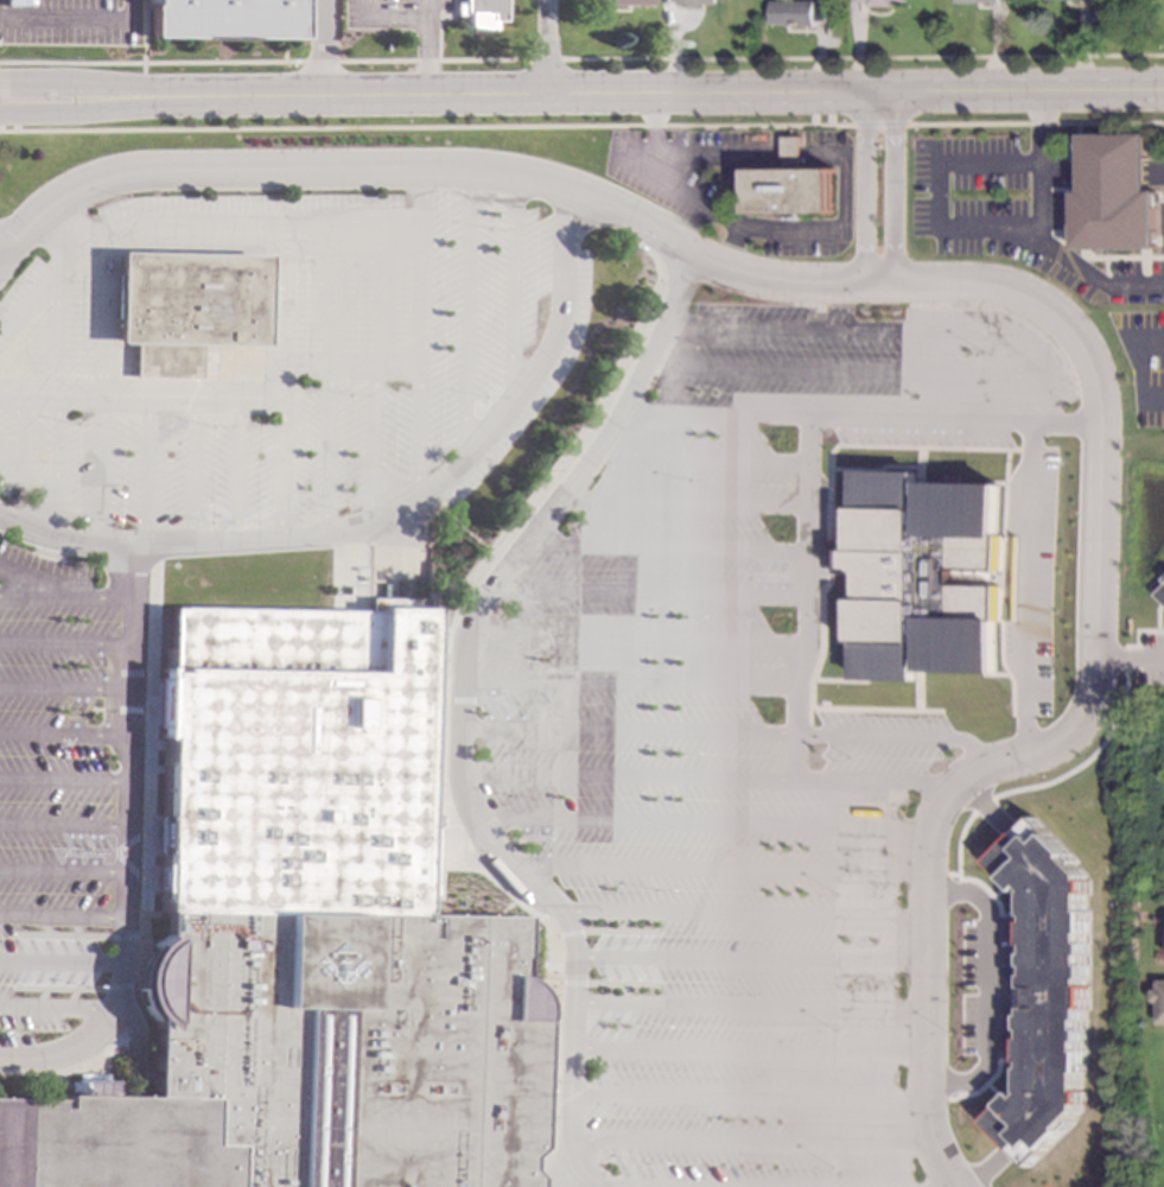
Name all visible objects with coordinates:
building: (971, 0)
building: (1147, 0)
building: (624, 2)
building: (689, 2)
building: (879, 2)
building: (832, 4)
road: (424, 9)
building: (797, 11)
building: (479, 12)
building: (224, 18)
road: (387, 18)
road: (74, 19)
parking lot: (63, 23)
road: (323, 50)
road: (546, 50)
road: (424, 59)
road: (83, 87)
road: (1019, 93)
road: (522, 100)
road: (83, 109)
road: (1036, 122)
road: (879, 123)
road: (650, 135)
road: (644, 155)
road: (1042, 166)
road: (322, 169)
road: (1155, 169)
road: (1062, 170)
road: (1114, 170)
building: (794, 185)
road: (865, 188)
road: (893, 188)
building: (1114, 193)
road: (415, 198)
road: (1162, 224)
road: (59, 227)
road: (977, 228)
road: (186, 229)
road: (649, 241)
road: (648, 266)
road: (771, 277)
road: (505, 290)
road: (323, 298)
road: (368, 298)
building: (178, 307)
road: (273, 313)
road: (95, 316)
road: (459, 317)
road: (858, 325)
road: (46, 334)
road: (414, 363)
road: (1140, 364)
road: (343, 366)
road: (835, 370)
road: (138, 394)
road: (1035, 398)
road: (822, 417)
road: (1069, 420)
road: (23, 423)
road: (365, 443)
road: (570, 443)
road: (320, 447)
parking lot: (221, 455)
road: (698, 458)
road: (46, 465)
road: (275, 466)
road: (93, 468)
road: (135, 469)
road: (183, 469)
road: (229, 469)
road: (23, 476)
road: (441, 476)
road: (681, 499)
road: (433, 500)
road: (812, 526)
road: (61, 539)
road: (663, 546)
road: (796, 561)
road: (492, 569)
road: (763, 570)
road: (787, 576)
building: (923, 576)
building: (1163, 579)
road: (1029, 585)
road: (30, 588)
road: (645, 590)
parking lot: (1036, 590)
building: (1160, 592)
road: (62, 603)
road: (1139, 630)
road: (631, 640)
road: (62, 642)
road: (1132, 655)
road: (1128, 656)
road: (624, 685)
road: (62, 688)
road: (469, 692)
road: (492, 692)
road: (449, 702)
road: (495, 702)
road: (795, 707)
road: (1088, 707)
road: (485, 715)
road: (451, 718)
road: (725, 732)
road: (62, 734)
parking lot: (732, 737)
road: (122, 745)
road: (1086, 758)
road: (706, 779)
road: (61, 782)
road: (982, 805)
road: (697, 820)
road: (61, 826)
road: (712, 870)
road: (61, 872)
road: (941, 872)
road: (477, 876)
road: (737, 914)
road: (59, 915)
road: (619, 922)
road: (610, 932)
road: (561, 933)
building: (300, 939)
road: (592, 944)
road: (608, 944)
road: (623, 944)
road: (637, 944)
road: (746, 958)
road: (1012, 958)
road: (59, 963)
road: (600, 970)
road: (616, 970)
road: (631, 970)
road: (647, 970)
road: (566, 983)
road: (617, 984)
road: (985, 985)
building: (1047, 990)
road: (621, 994)
building: (1159, 998)
road: (745, 1004)
road: (53, 1005)
road: (602, 1014)
road: (615, 1026)
road: (89, 1034)
road: (596, 1036)
road: (745, 1050)
road: (568, 1096)
road: (745, 1096)
road: (934, 1098)
park: (1141, 1112)
road: (751, 1143)
road: (559, 1169)

